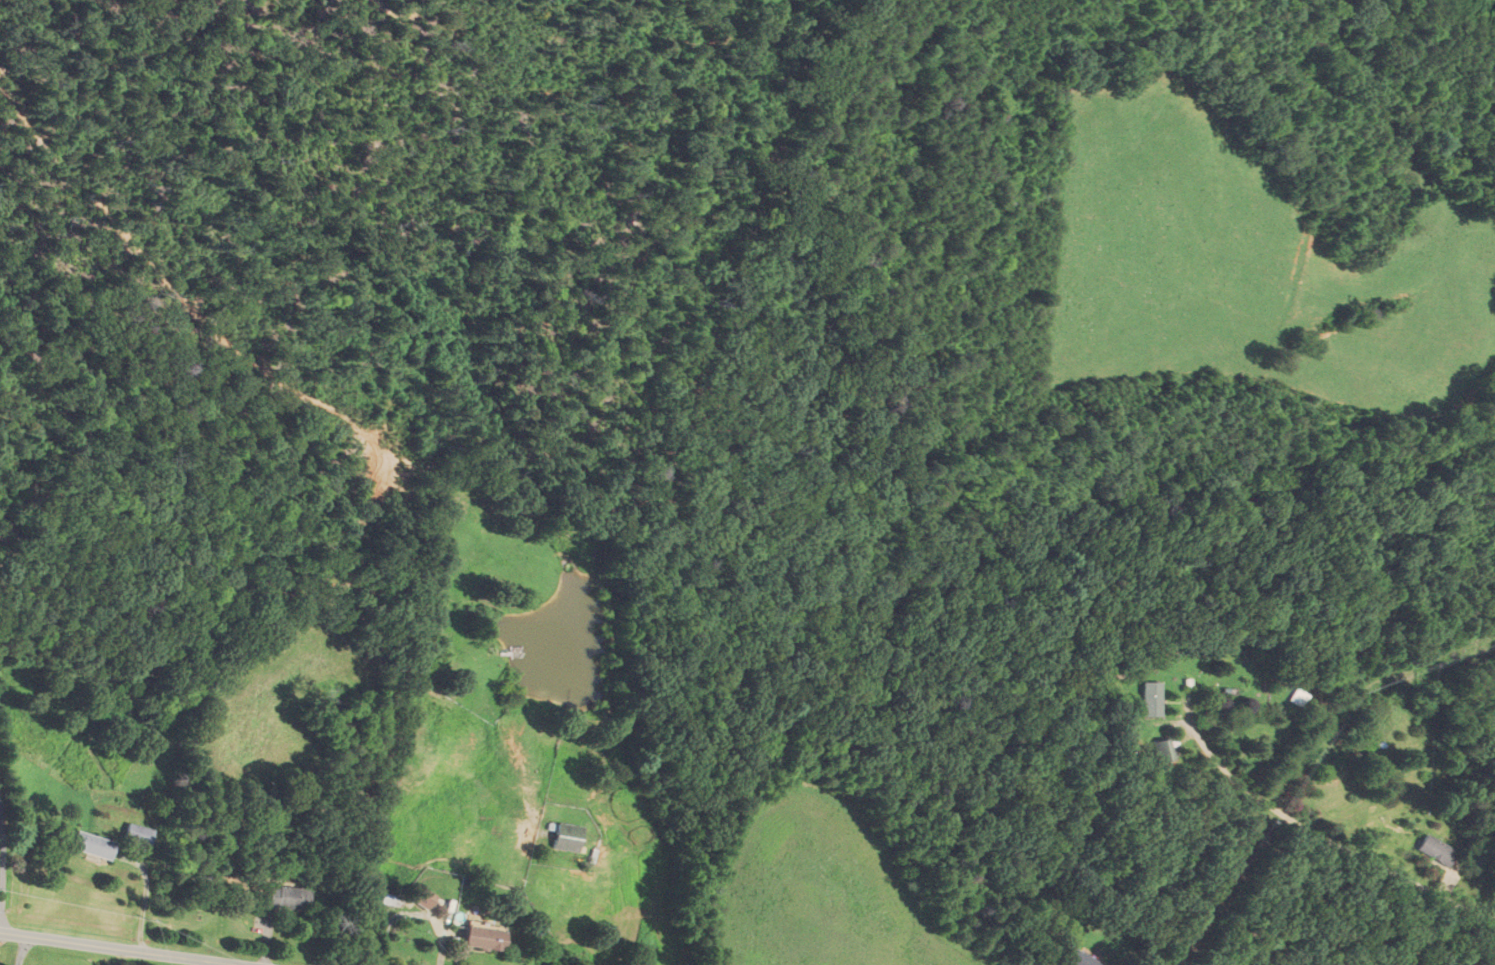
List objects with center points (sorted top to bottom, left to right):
building: (1227, 684)
building: (1175, 698)
building: (1164, 750)
building: (1336, 759)
building: (136, 835)
building: (566, 837)
road: (1328, 841)
road: (1, 842)
building: (91, 845)
building: (1436, 851)
building: (419, 897)
building: (287, 898)
road: (143, 916)
road: (1, 922)
building: (481, 938)
road: (119, 948)
road: (22, 950)
building: (1076, 958)

